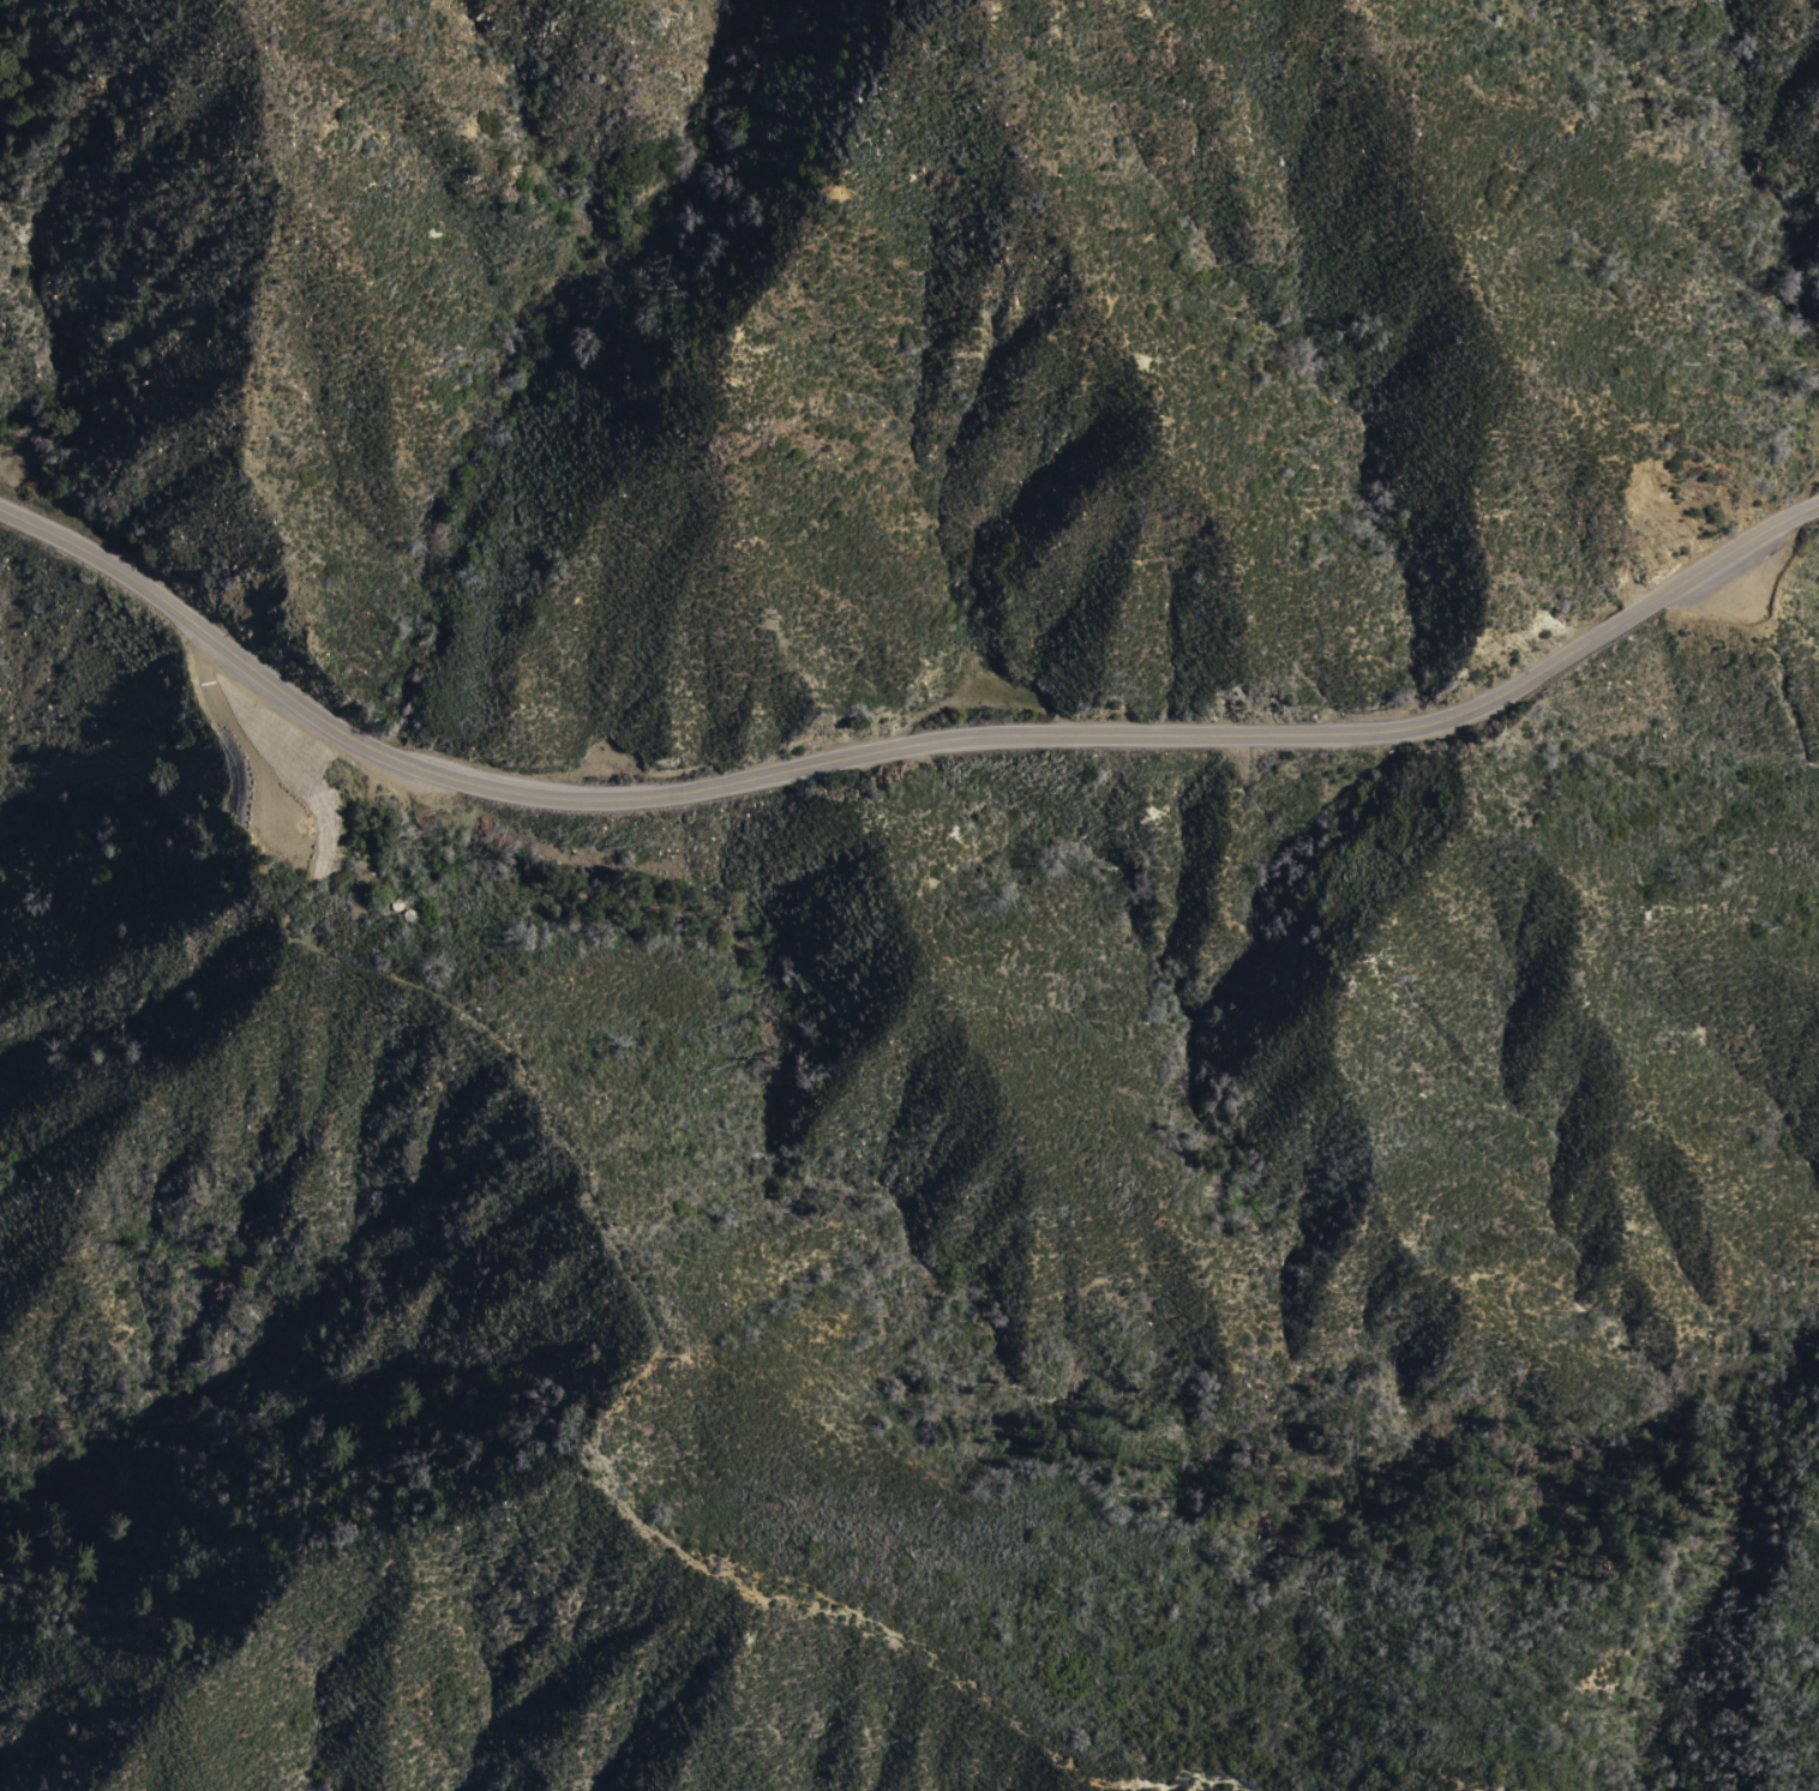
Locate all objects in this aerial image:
parking lot: (1740, 587)
road: (896, 749)
road: (264, 753)
road: (367, 837)
building: (395, 898)
storage tank: (395, 898)
building: (407, 909)
storage tank: (407, 909)

